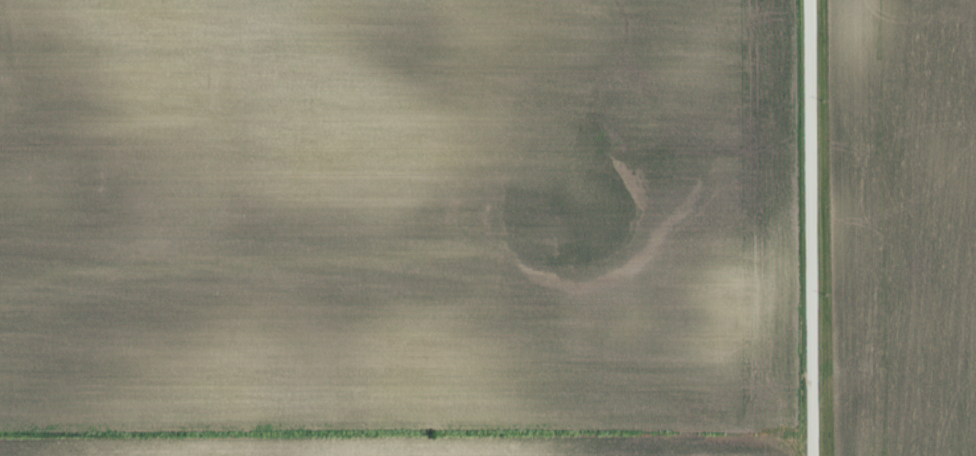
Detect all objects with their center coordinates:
road: (812, 228)

